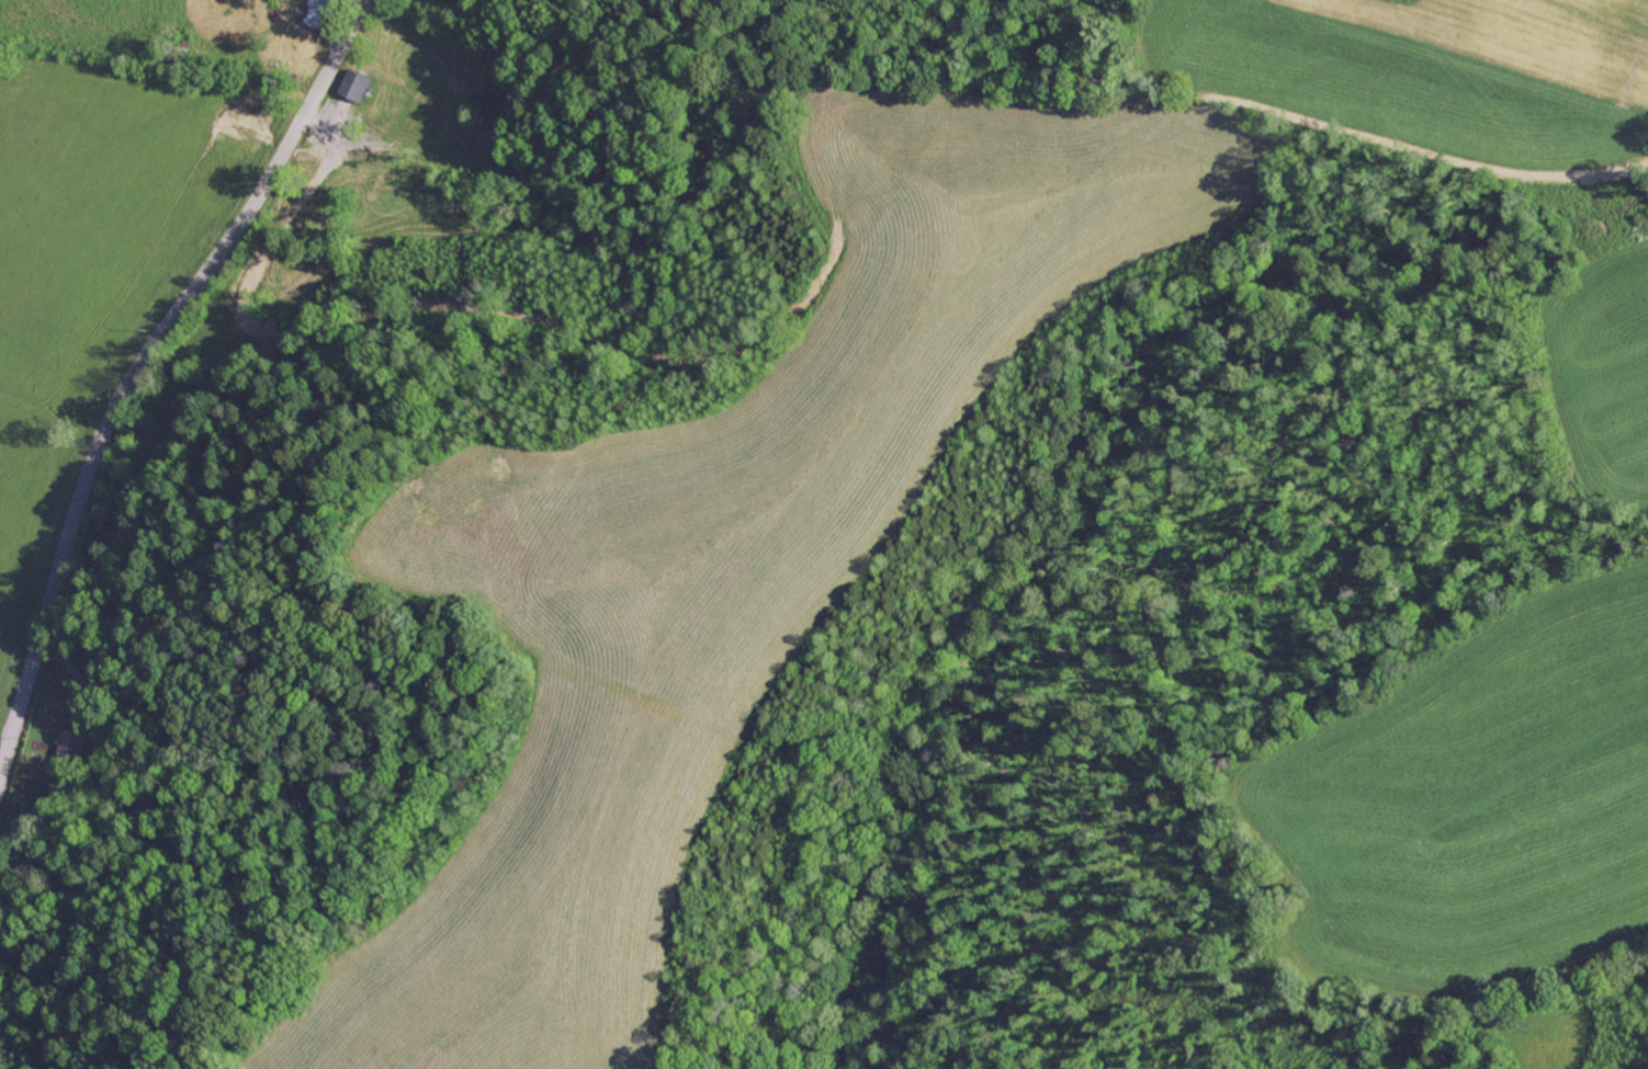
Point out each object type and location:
building: (320, 14)
road: (296, 18)
building: (357, 87)
road: (140, 365)
building: (74, 736)

